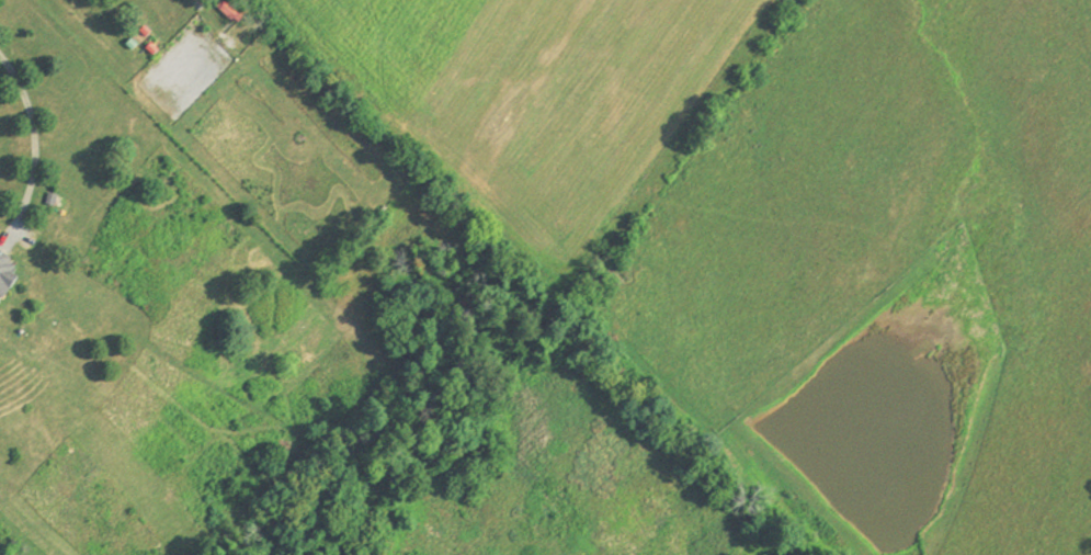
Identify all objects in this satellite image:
road: (33, 138)
building: (3, 270)

